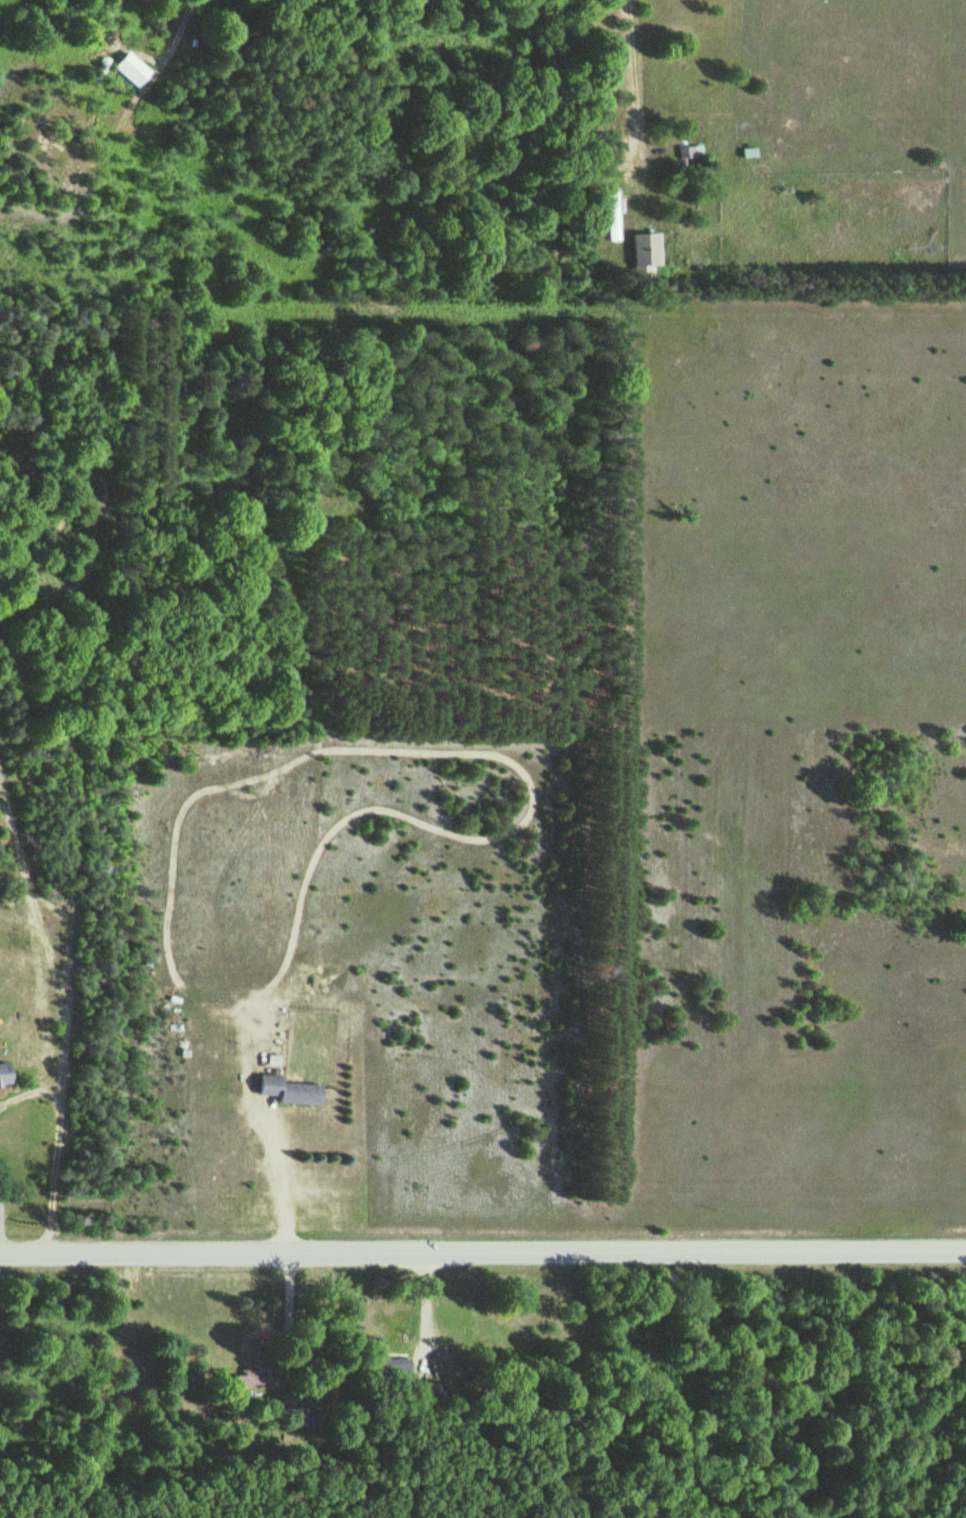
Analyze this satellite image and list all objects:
building: (129, 68)
building: (688, 150)
building: (549, 183)
building: (610, 216)
building: (643, 248)
road: (292, 252)
road: (664, 391)
building: (4, 1074)
building: (287, 1090)
road: (280, 1147)
road: (483, 1251)
building: (384, 1365)
building: (258, 1377)
building: (424, 1391)
building: (293, 1416)

